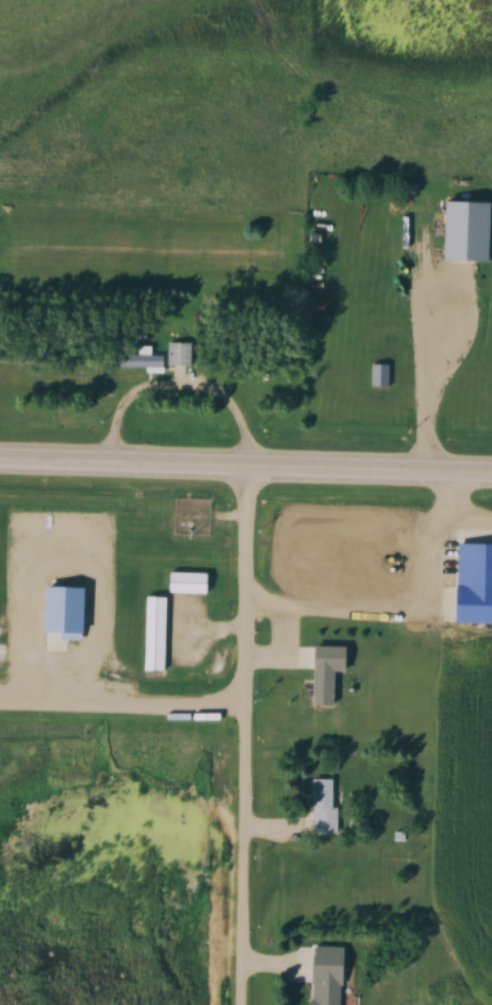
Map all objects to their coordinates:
building: (470, 232)
building: (180, 354)
building: (150, 357)
building: (381, 375)
road: (246, 469)
building: (190, 583)
building: (474, 583)
building: (156, 611)
building: (67, 612)
building: (330, 673)
road: (119, 705)
road: (237, 736)
airport: (244, 747)
building: (325, 806)
building: (327, 985)

